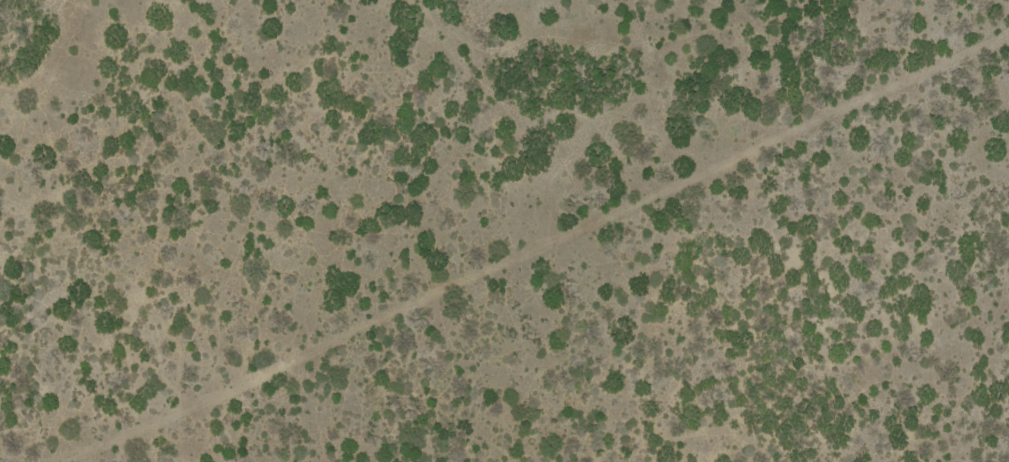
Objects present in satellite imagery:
road: (31, 45)

